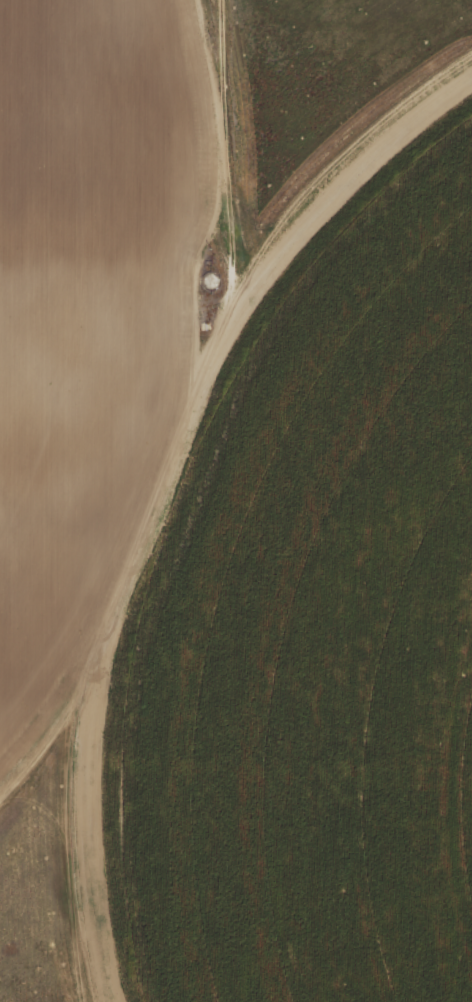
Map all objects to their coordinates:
road: (290, 114)

